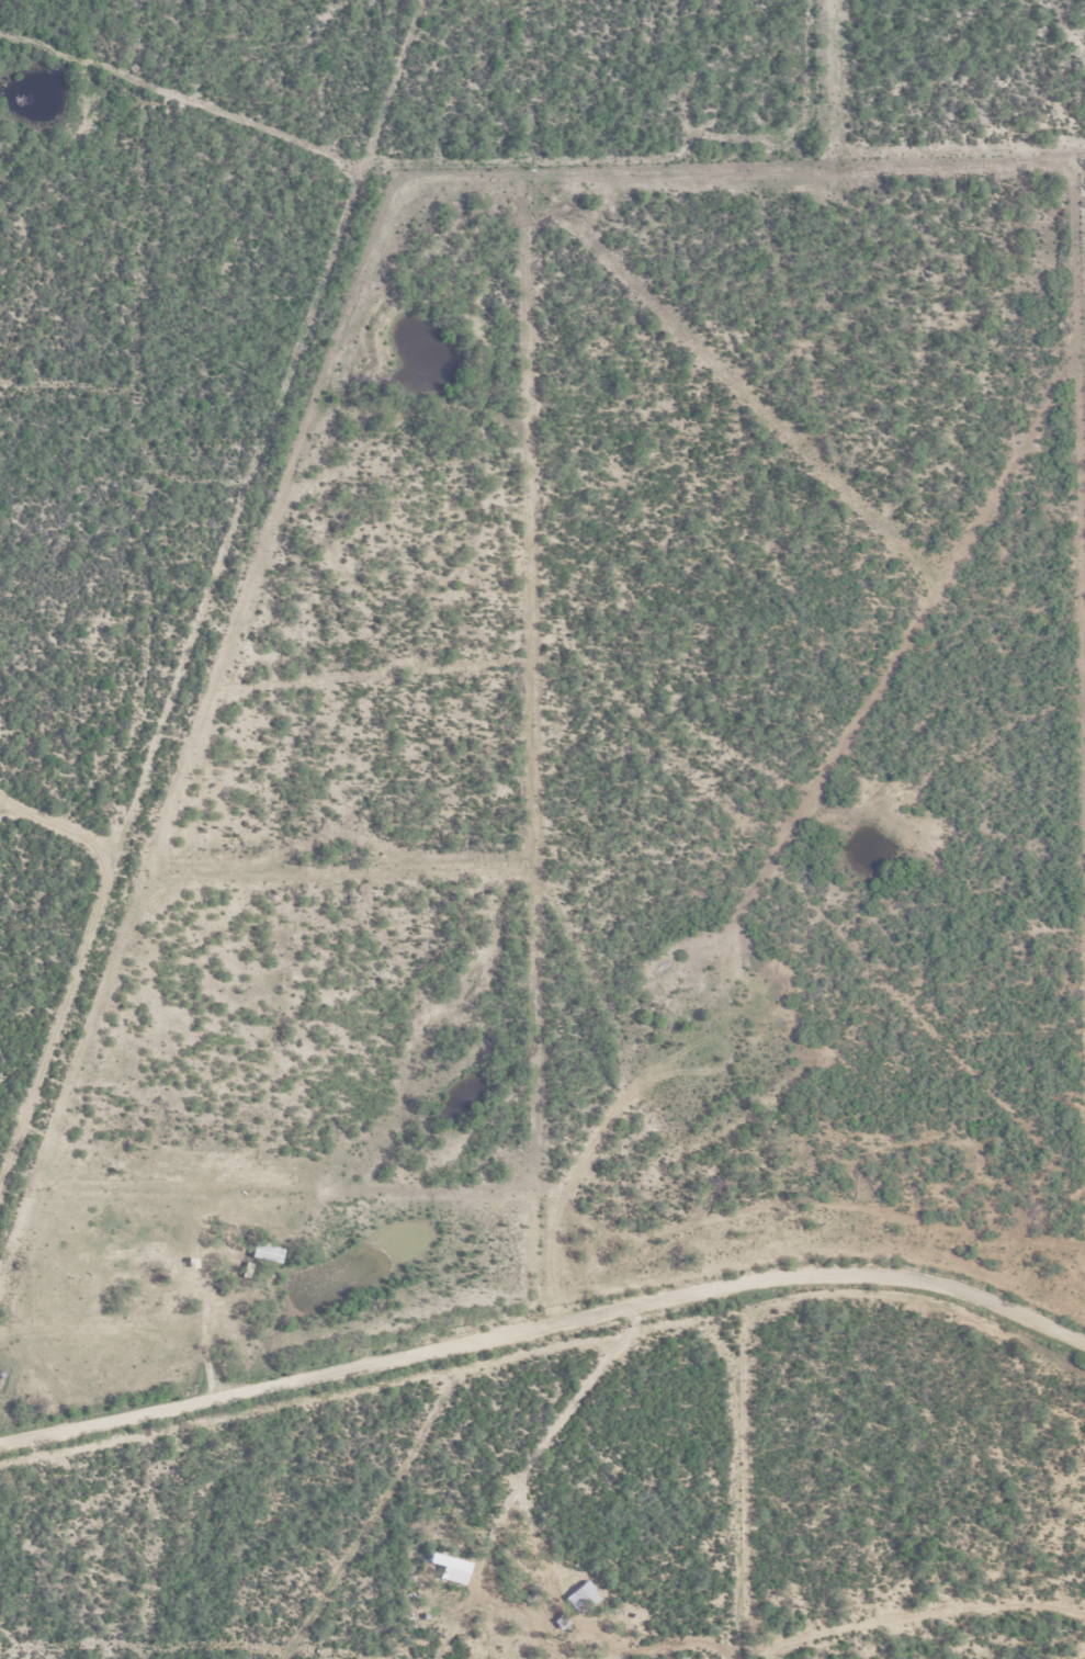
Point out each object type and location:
building: (238, 1246)
building: (270, 1252)
road: (545, 1325)
building: (583, 1598)

